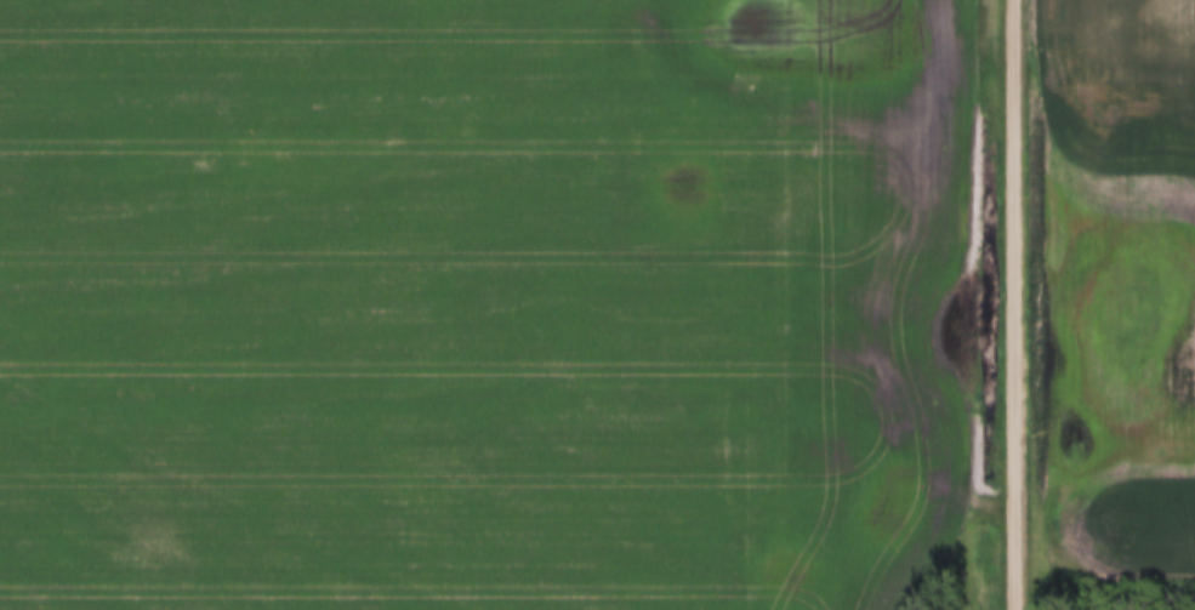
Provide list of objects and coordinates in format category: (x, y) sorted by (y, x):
road: (1017, 304)

